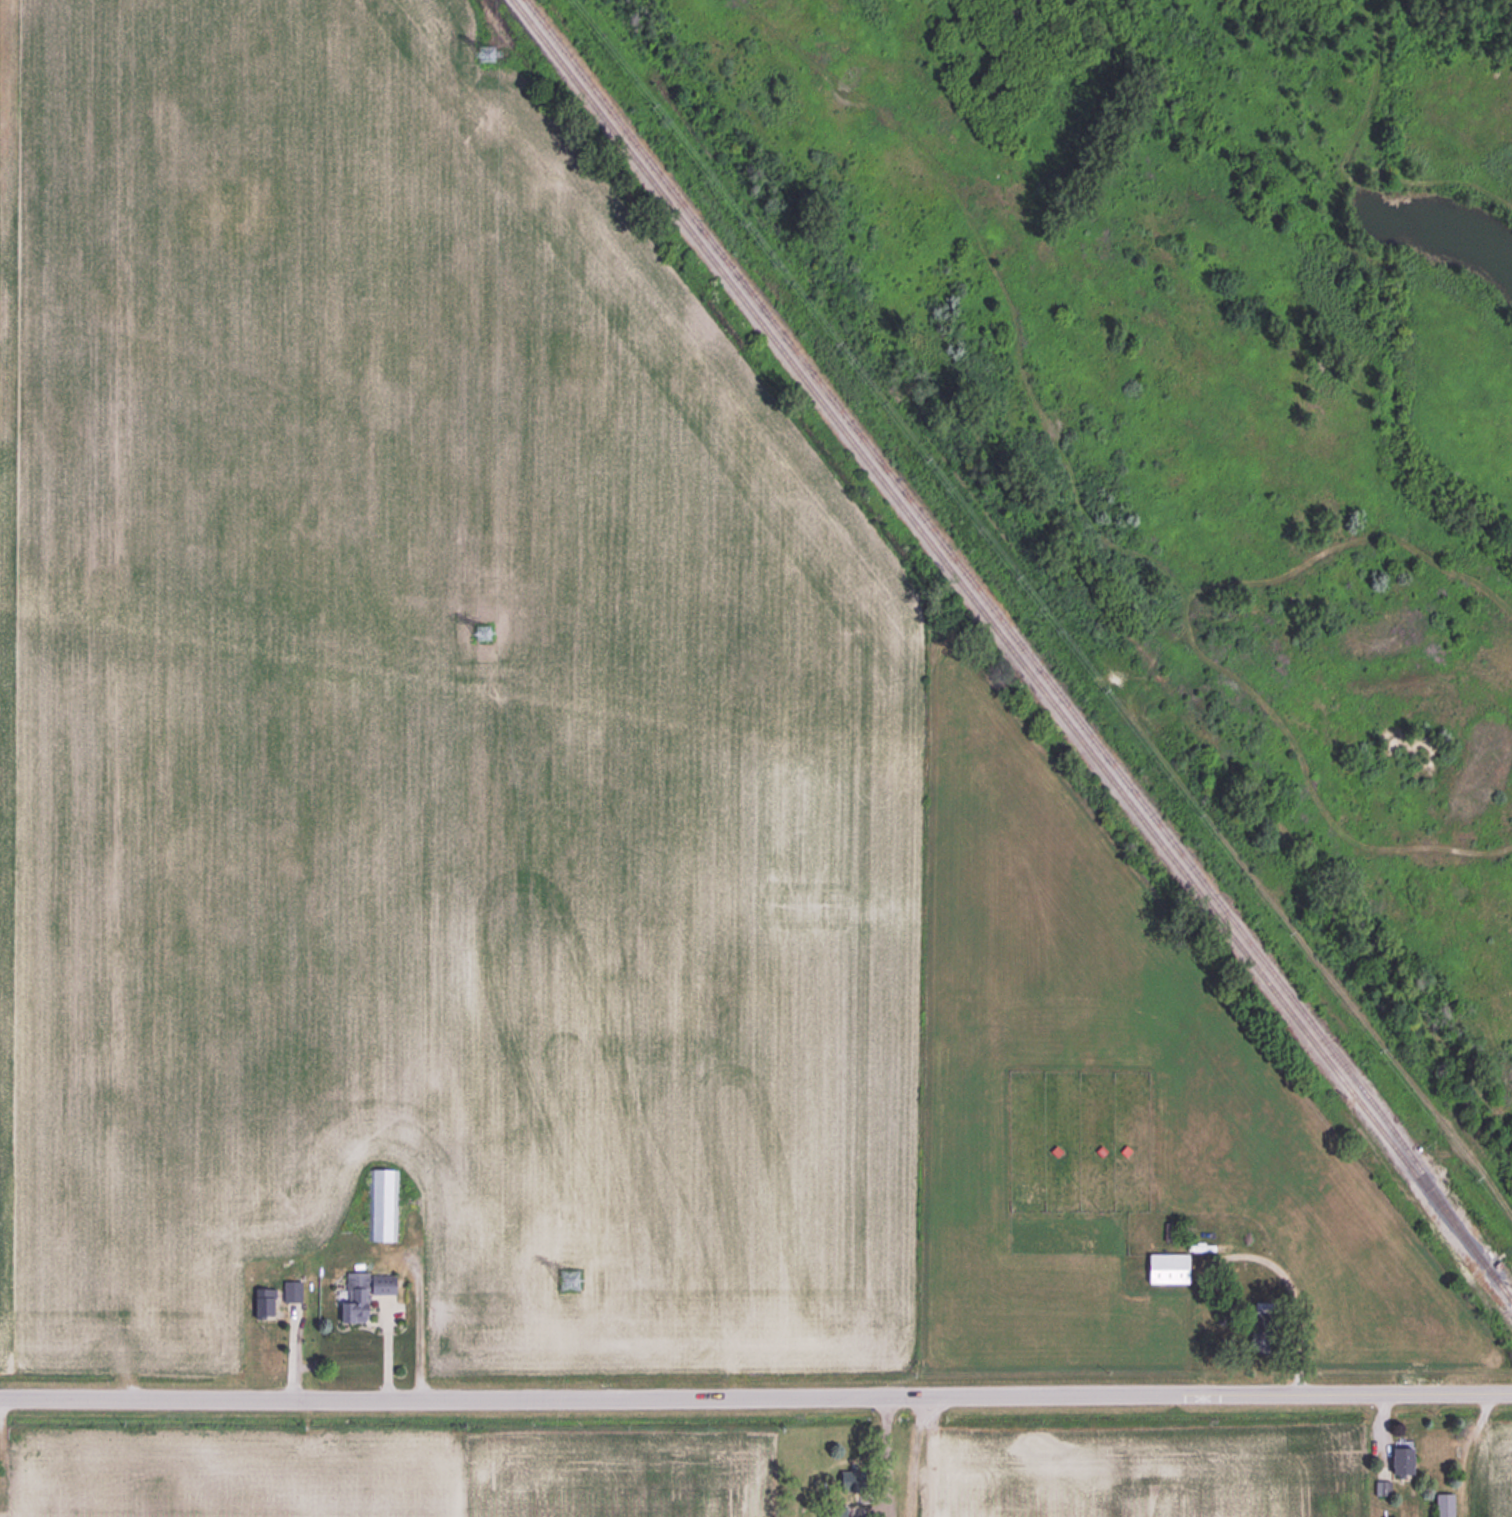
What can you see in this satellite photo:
power tower: (484, 57)
railway: (1006, 630)
power tower: (479, 635)
railway: (1011, 652)
crop: (425, 732)
road: (1231, 766)
building: (381, 1204)
building: (1172, 1232)
road: (1242, 1255)
building: (1167, 1269)
power tower: (565, 1284)
building: (292, 1292)
building: (361, 1294)
building: (263, 1301)
building: (1261, 1334)
road: (756, 1397)
building: (1400, 1461)
road: (885, 1468)
building: (847, 1482)
building: (1444, 1505)
building: (836, 1512)

